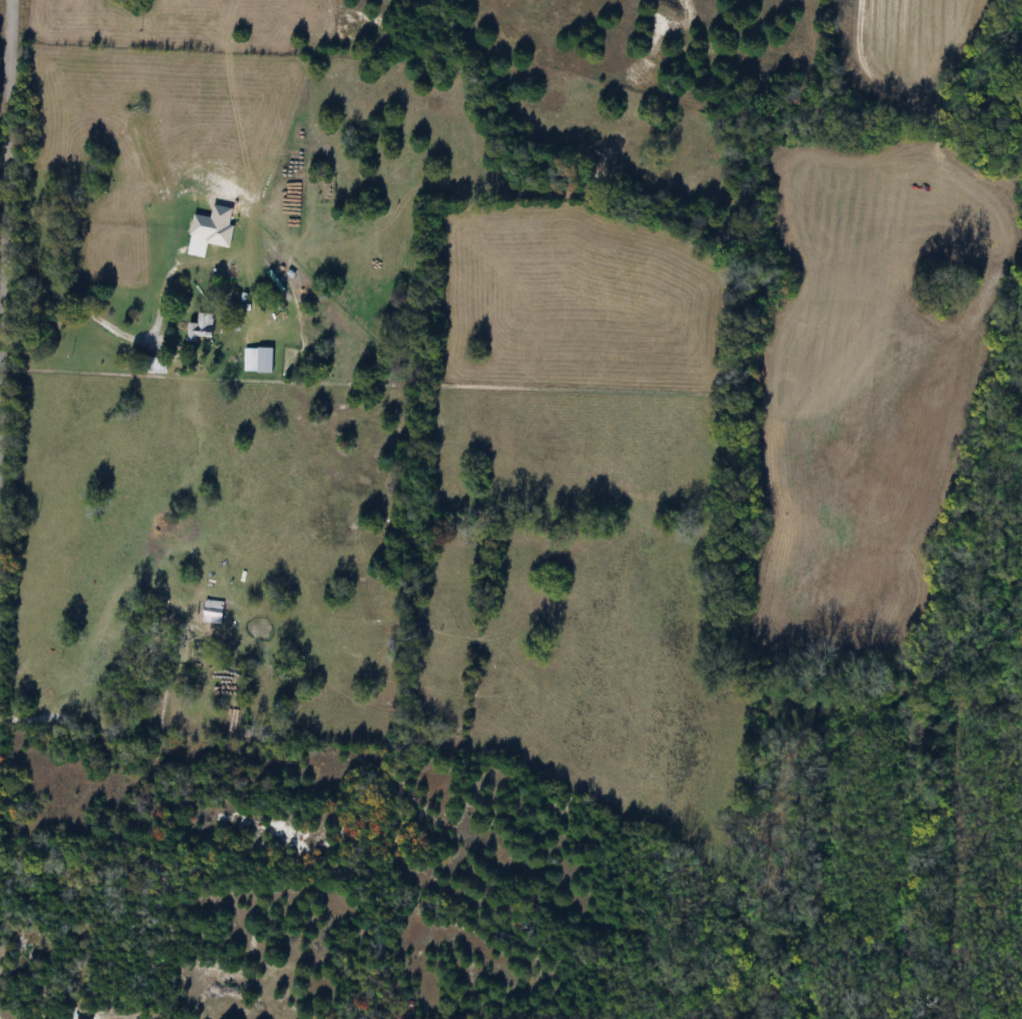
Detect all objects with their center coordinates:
road: (5, 184)
building: (199, 328)
road: (130, 336)
building: (256, 360)
building: (151, 366)
building: (210, 612)

